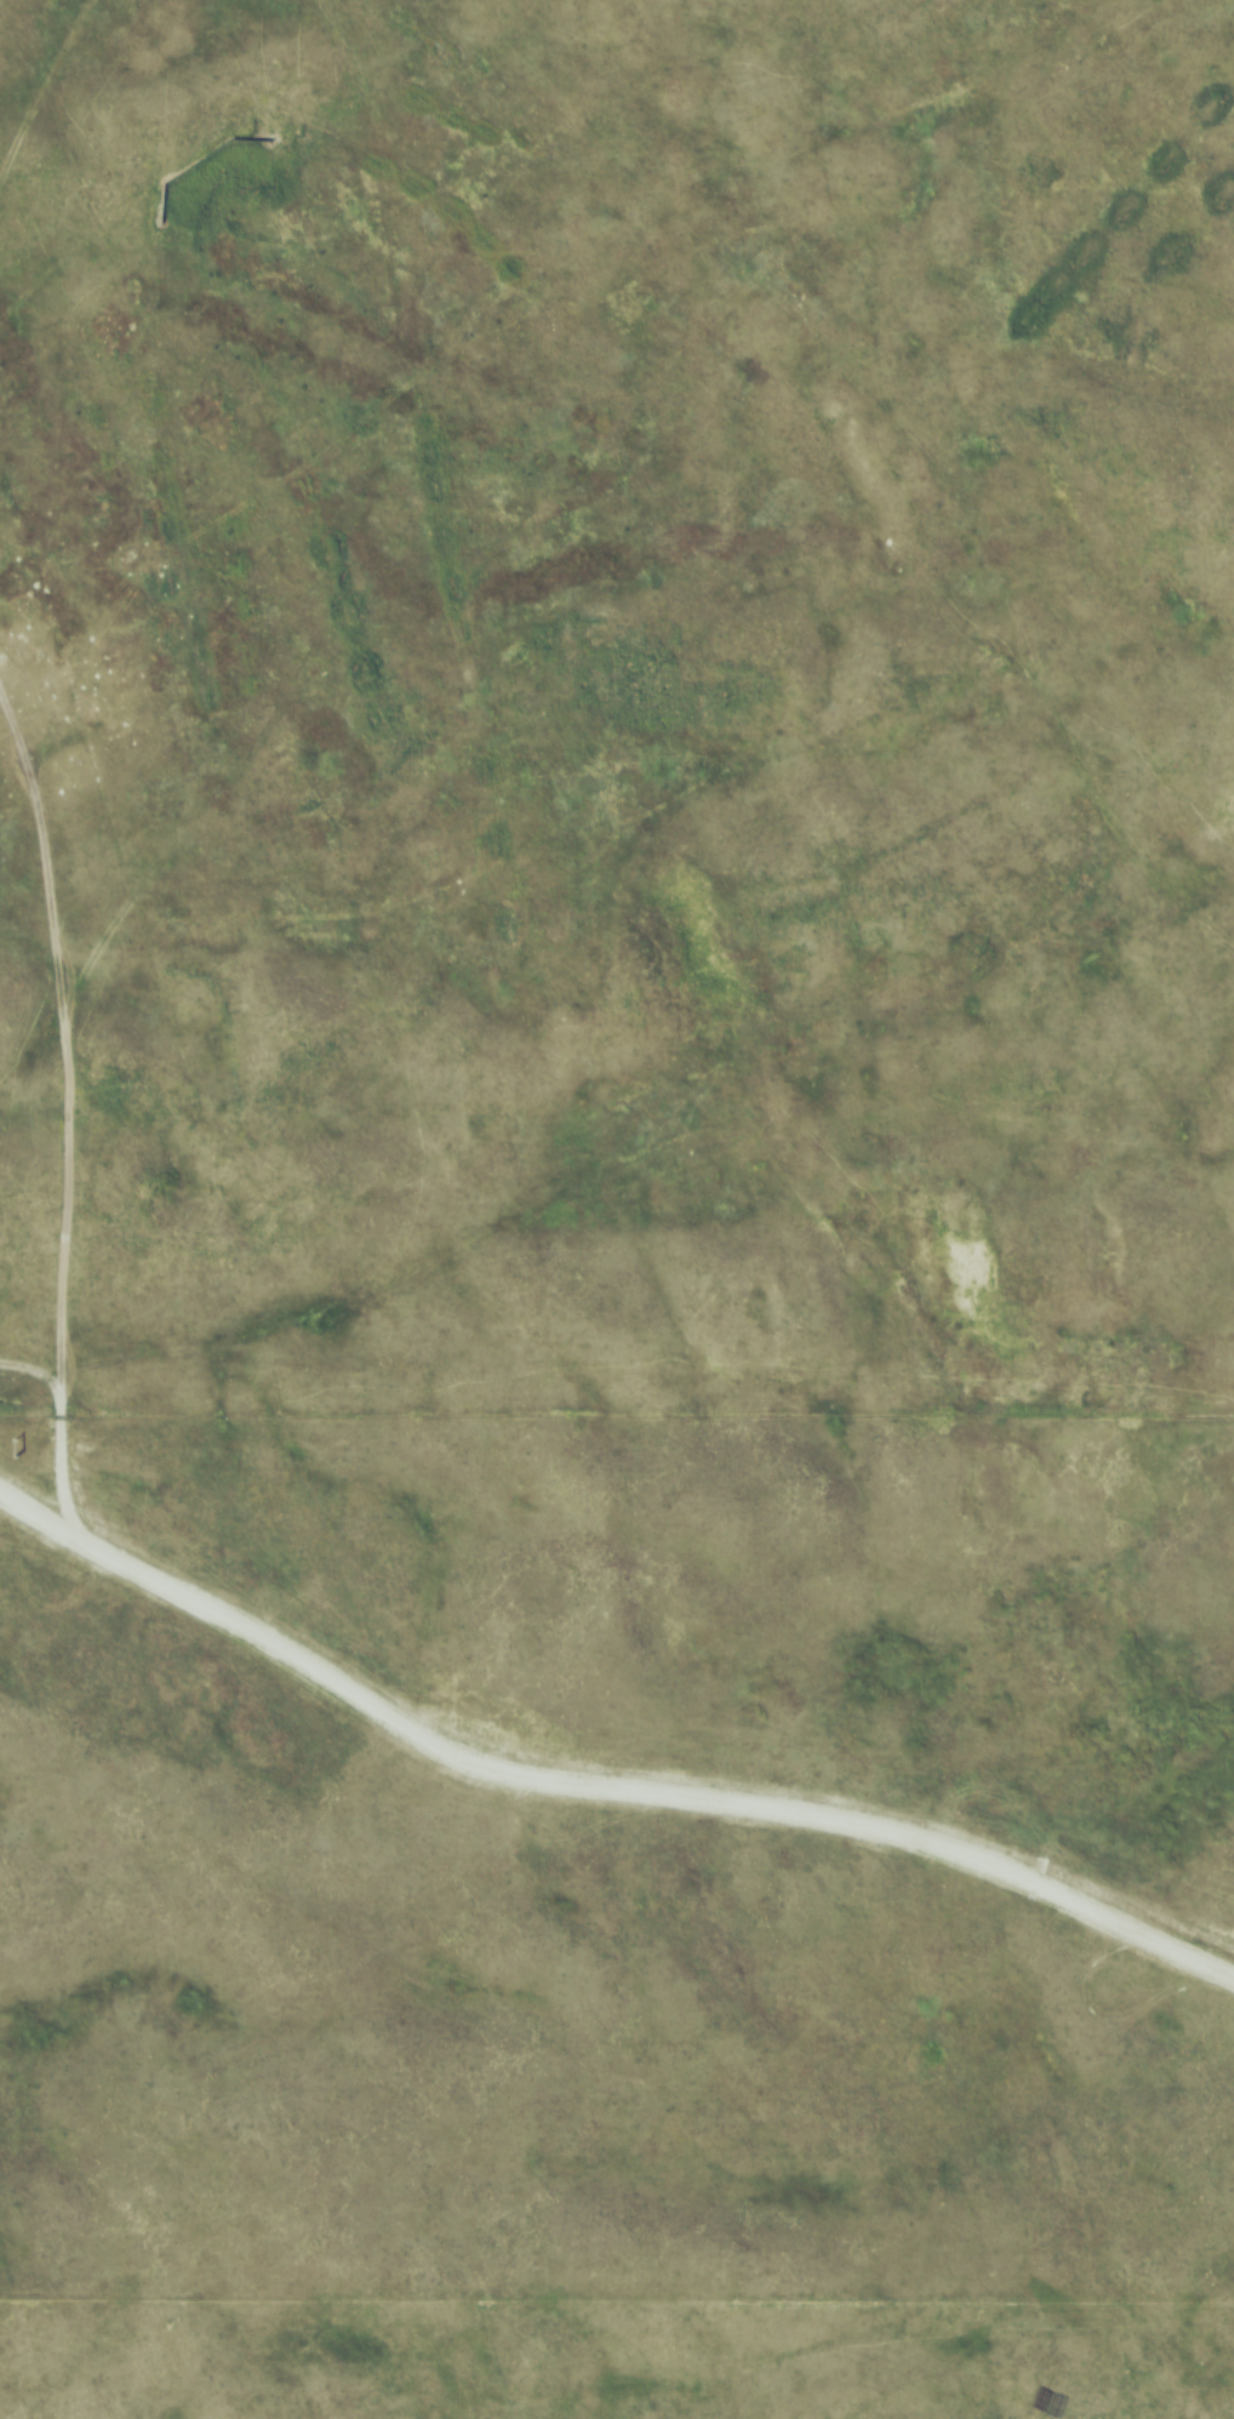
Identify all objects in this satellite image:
road: (599, 1778)

